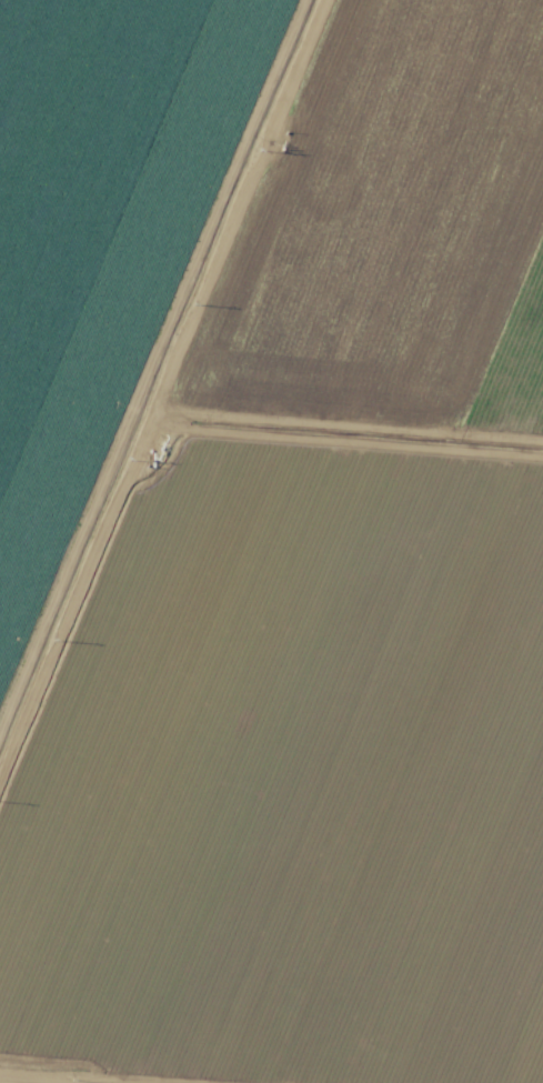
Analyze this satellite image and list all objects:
crop: (271, 541)

